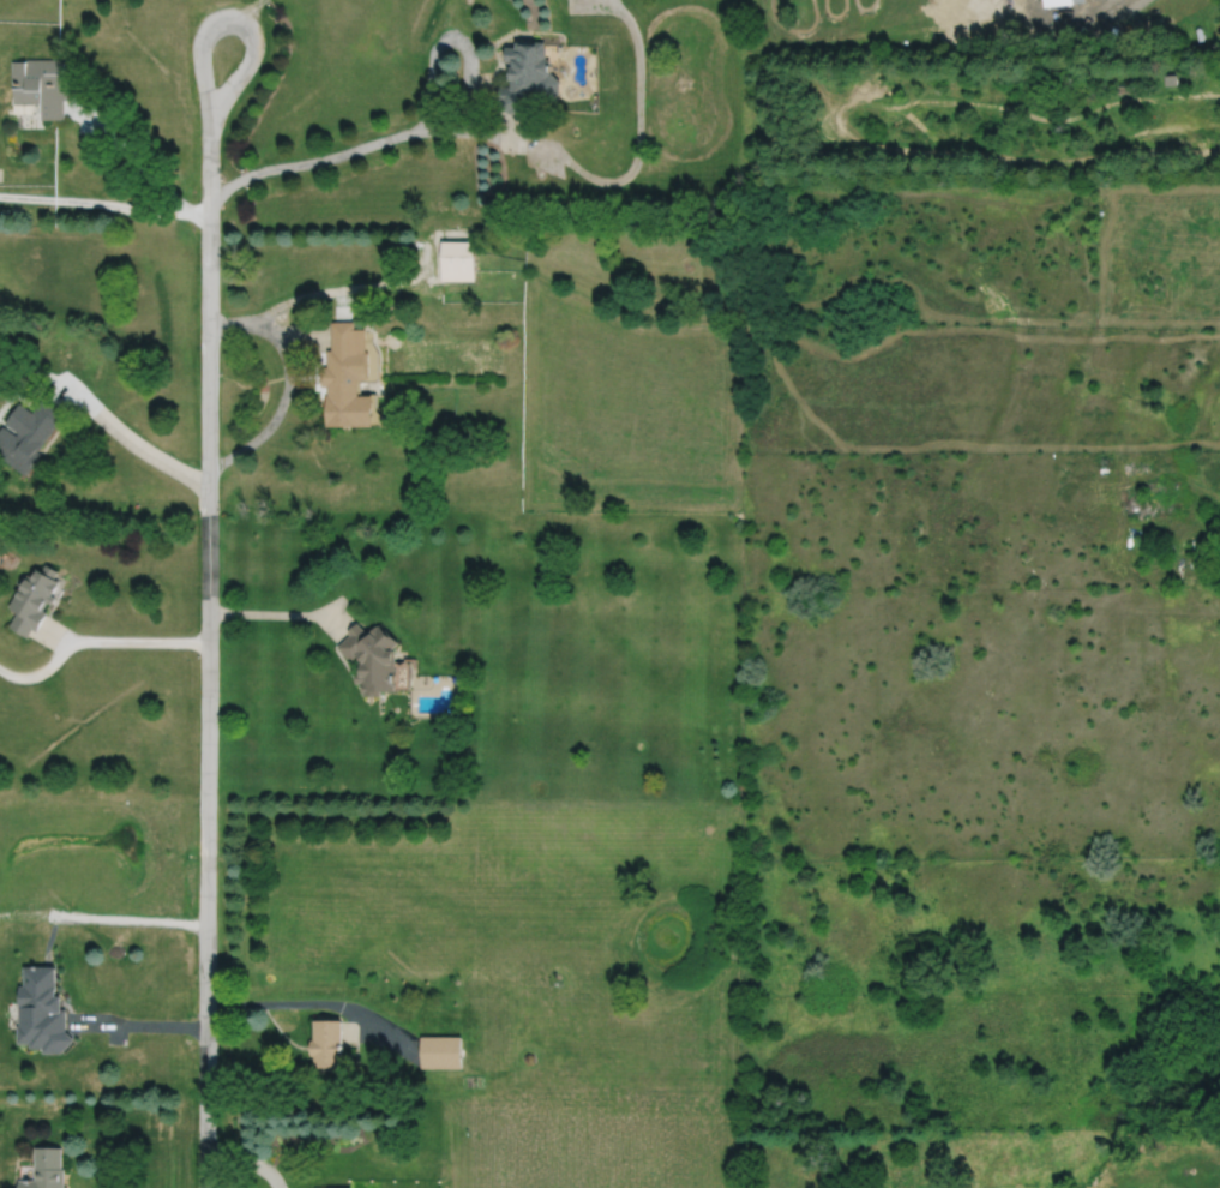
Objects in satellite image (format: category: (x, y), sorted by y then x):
building: (1060, 2)
road: (215, 10)
road: (250, 10)
road: (233, 19)
road: (450, 37)
building: (527, 78)
building: (1172, 82)
building: (41, 85)
road: (443, 132)
road: (134, 157)
road: (308, 162)
road: (630, 172)
road: (94, 210)
road: (198, 210)
building: (458, 258)
road: (372, 284)
road: (233, 323)
building: (348, 376)
road: (283, 403)
road: (104, 420)
building: (28, 433)
building: (34, 600)
road: (278, 614)
road: (59, 632)
road: (139, 641)
building: (374, 658)
road: (206, 660)
road: (41, 673)
road: (126, 919)
road: (280, 1004)
building: (41, 1010)
road: (138, 1024)
road: (354, 1025)
road: (384, 1028)
building: (326, 1042)
building: (440, 1050)
road: (247, 1160)
building: (44, 1169)
building: (341, 1187)

